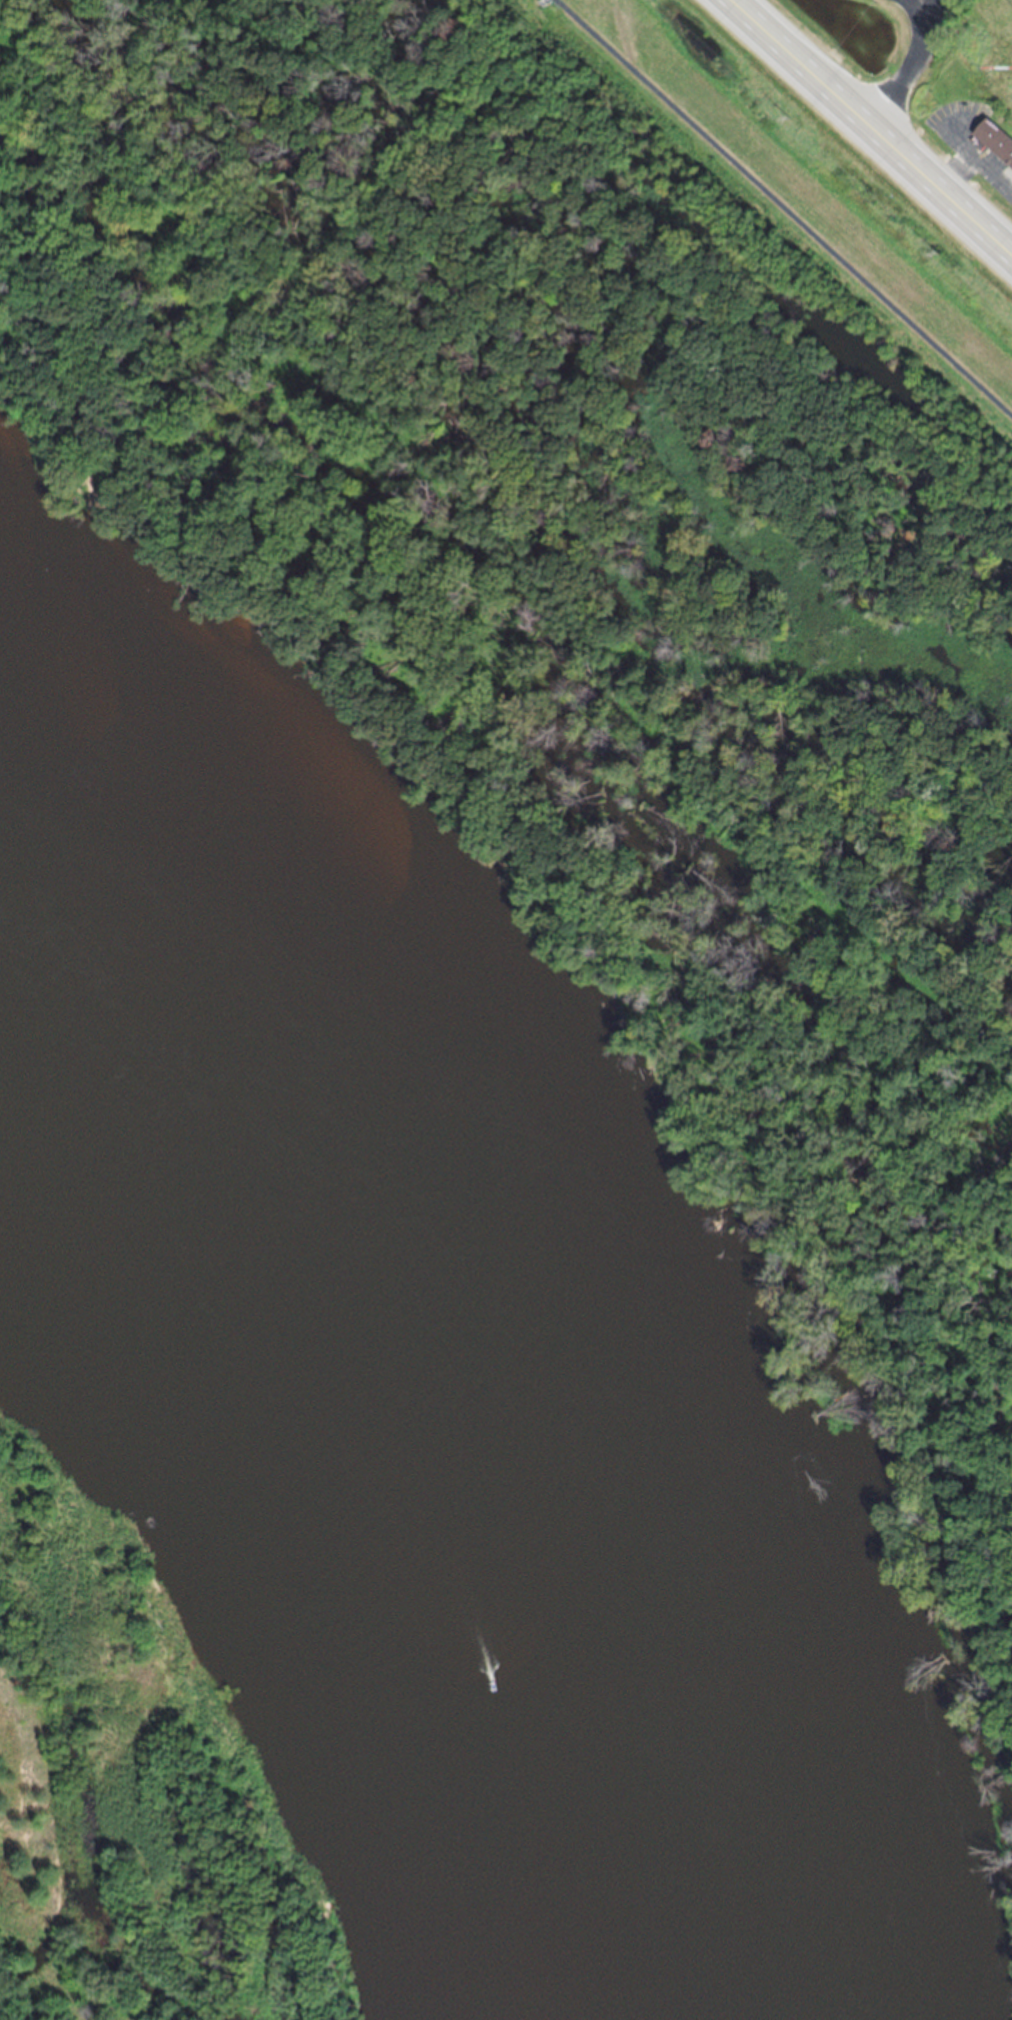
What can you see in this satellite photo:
road: (851, 117)
building: (994, 149)
road: (974, 167)
road: (993, 185)
road: (780, 210)
park: (805, 214)
road: (996, 248)
river: (368, 1455)

